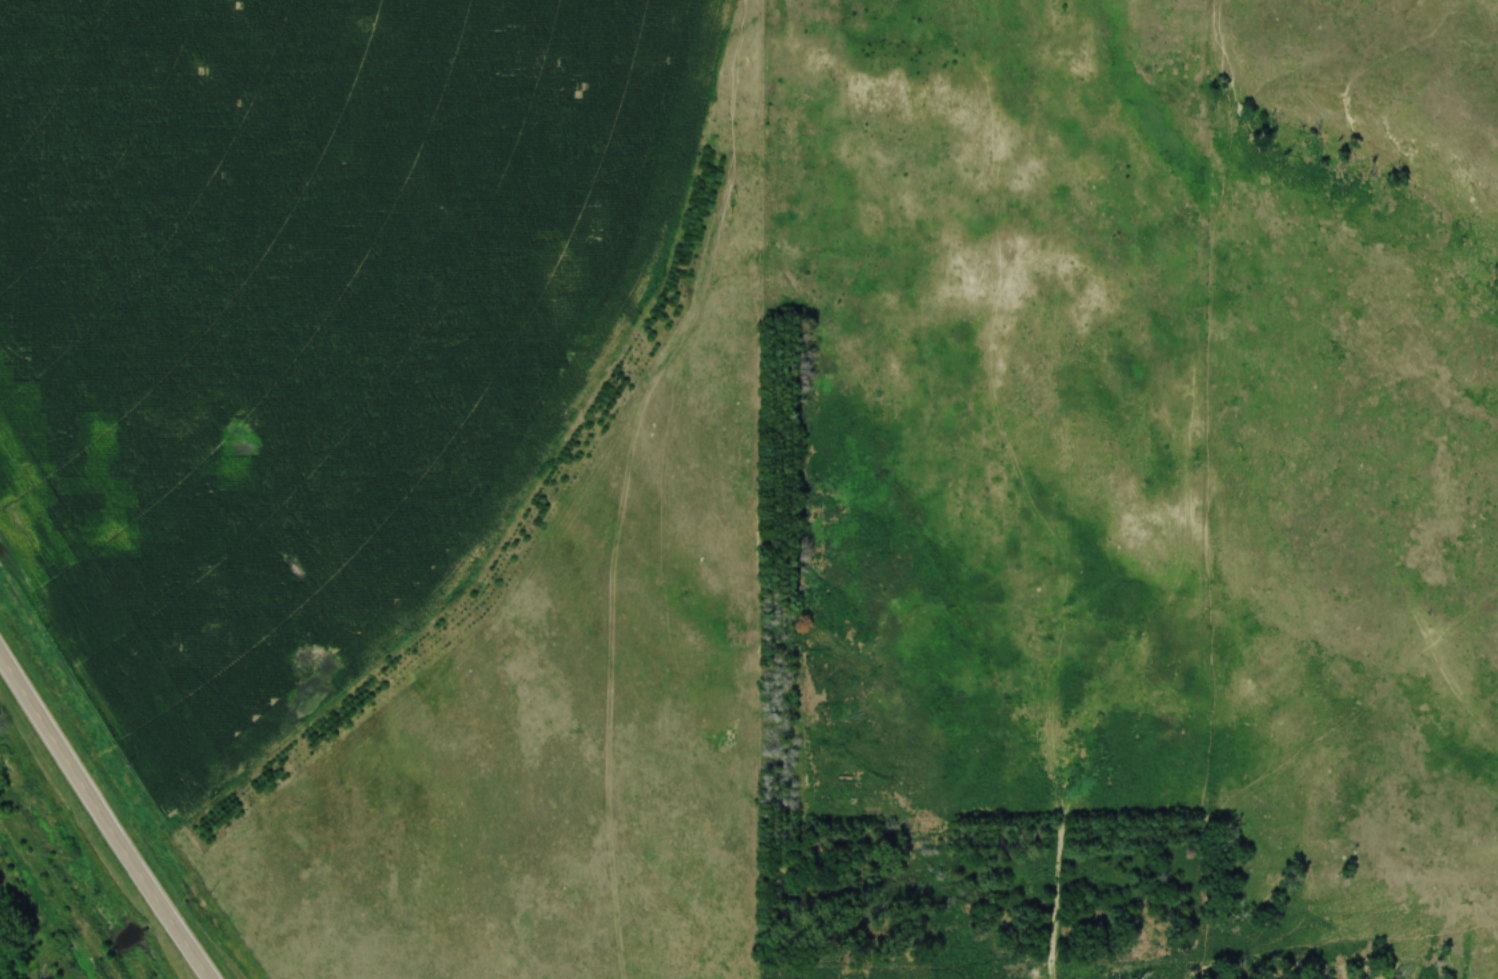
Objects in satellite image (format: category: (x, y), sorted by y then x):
road: (103, 820)

